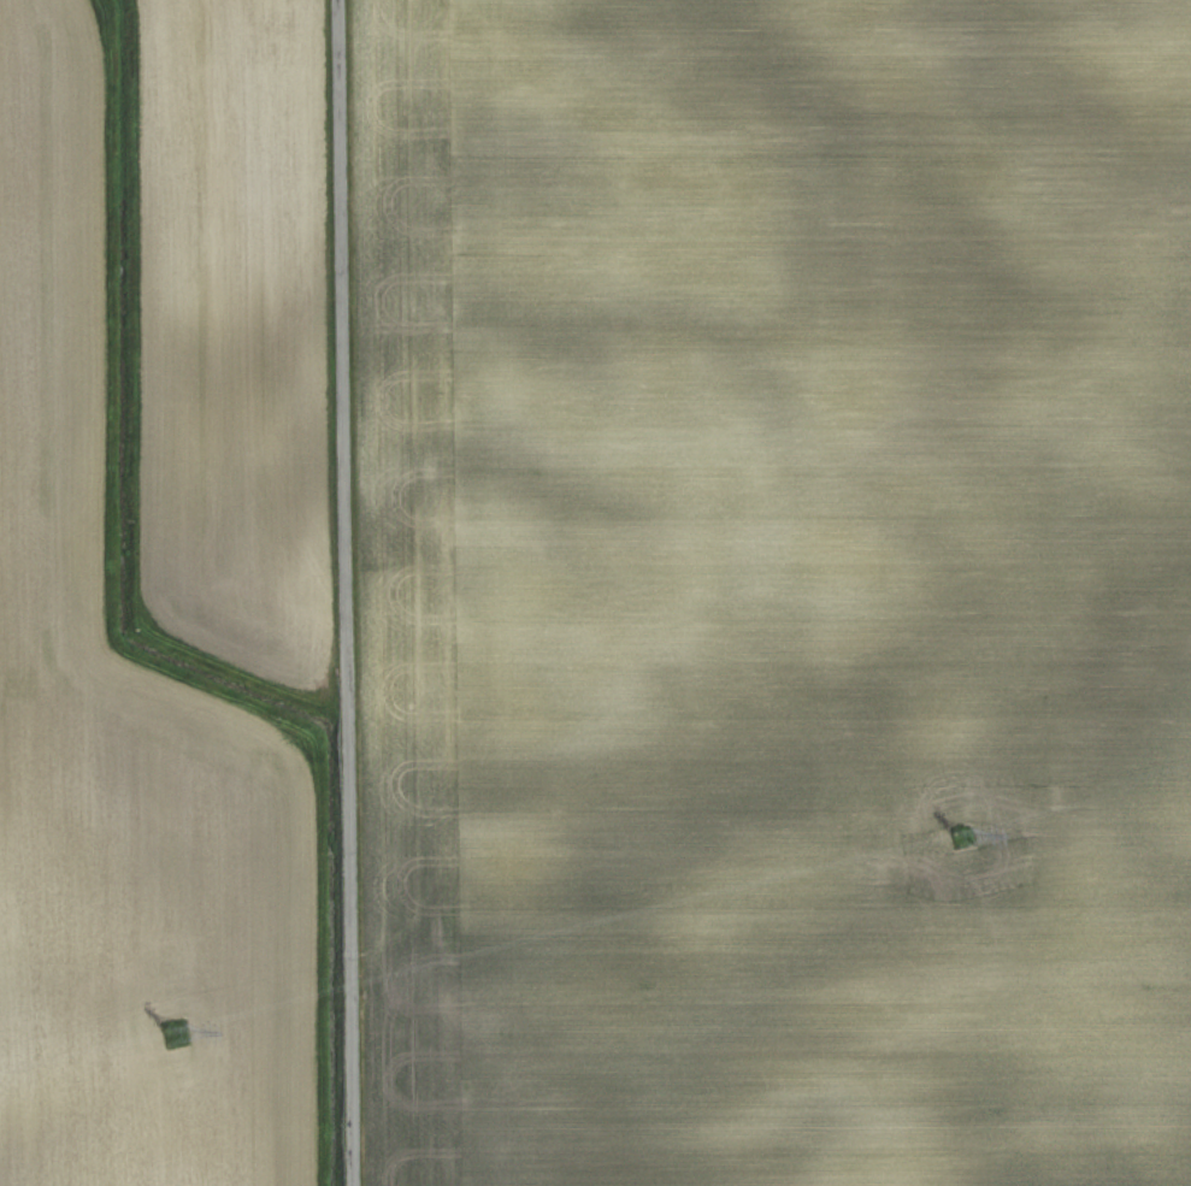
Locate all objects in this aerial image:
road: (343, 592)
power tower: (954, 837)

